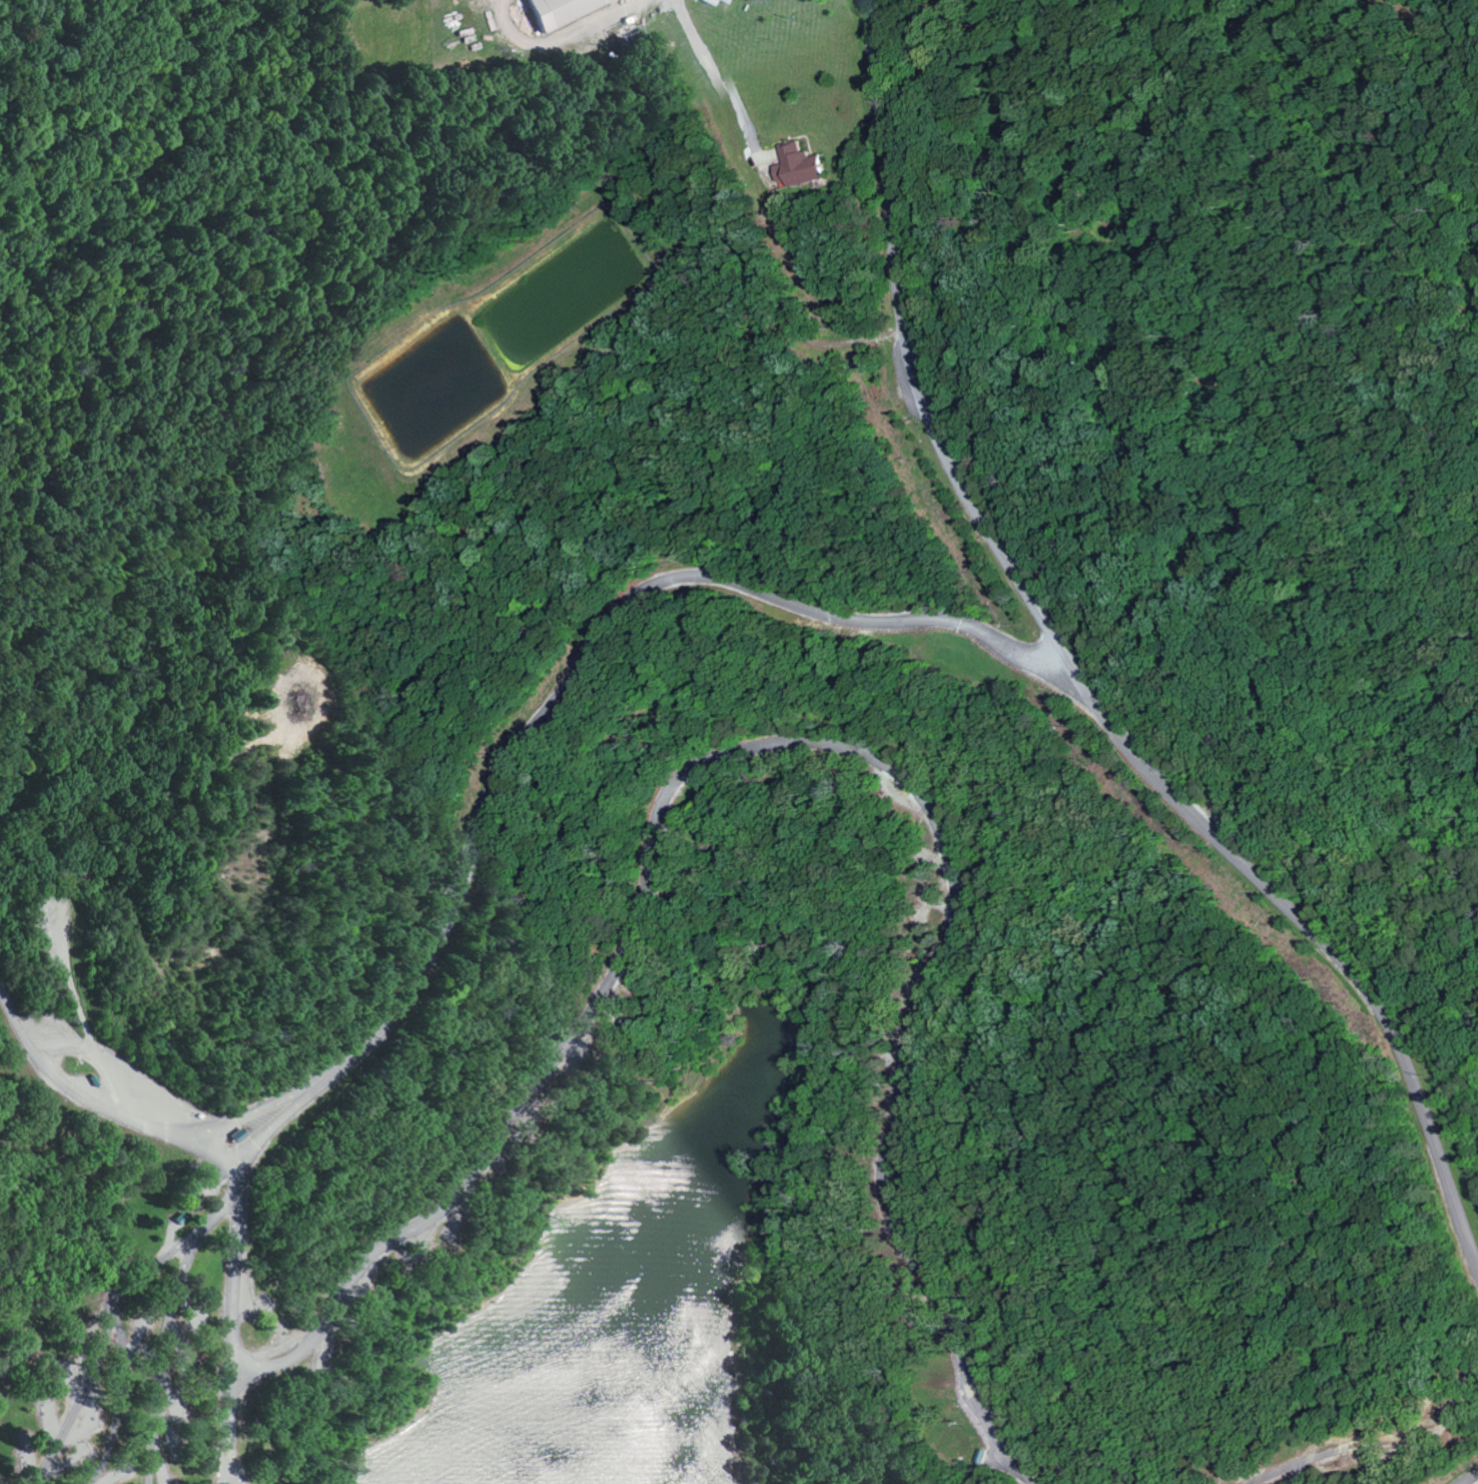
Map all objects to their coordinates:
building: (723, 1)
building: (556, 11)
building: (798, 165)
road: (1079, 681)
road: (542, 706)
road: (793, 742)
park: (761, 785)
road: (3, 1001)
road: (220, 1174)
road: (200, 1240)
road: (99, 1357)
road: (163, 1368)
road: (3, 1395)
road: (121, 1407)
road: (1367, 1447)
road: (1471, 1480)
road: (228, 1481)
road: (231, 1481)

